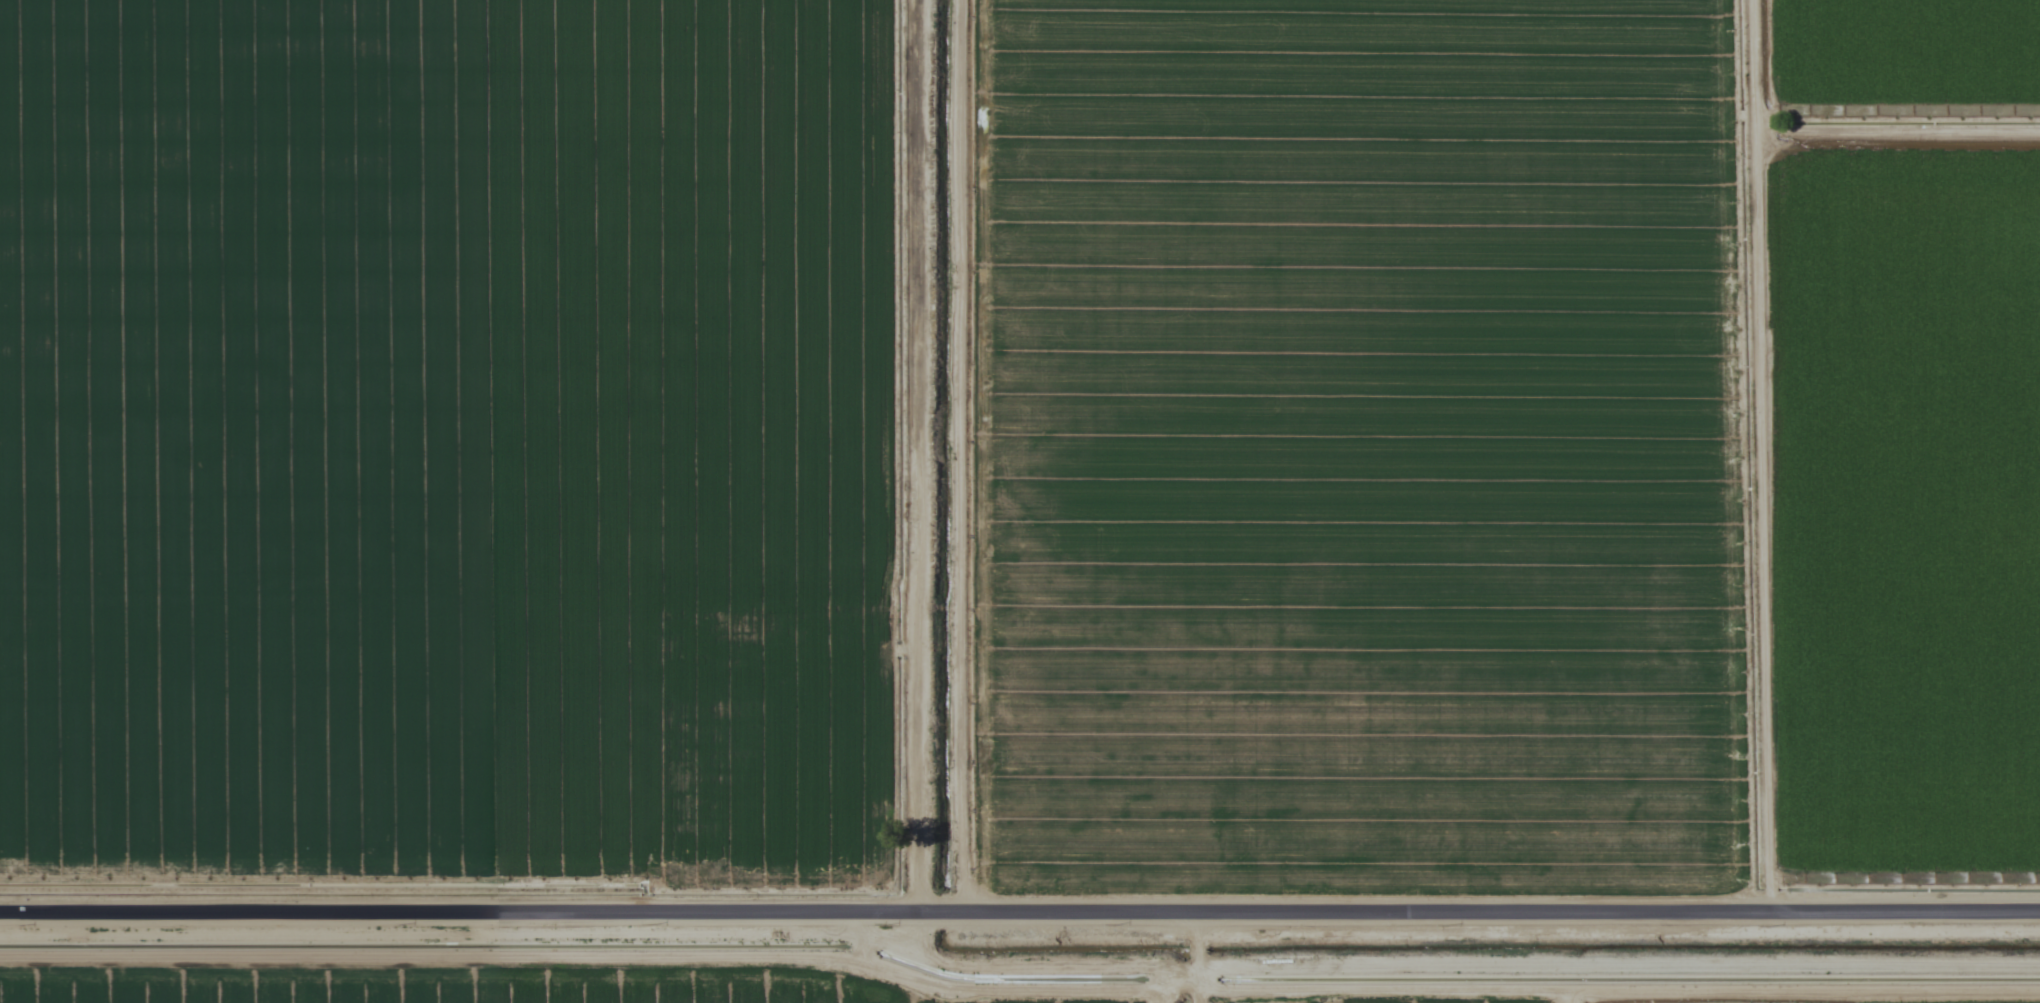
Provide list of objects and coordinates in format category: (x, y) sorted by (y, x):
road: (923, 451)
road: (1020, 901)

